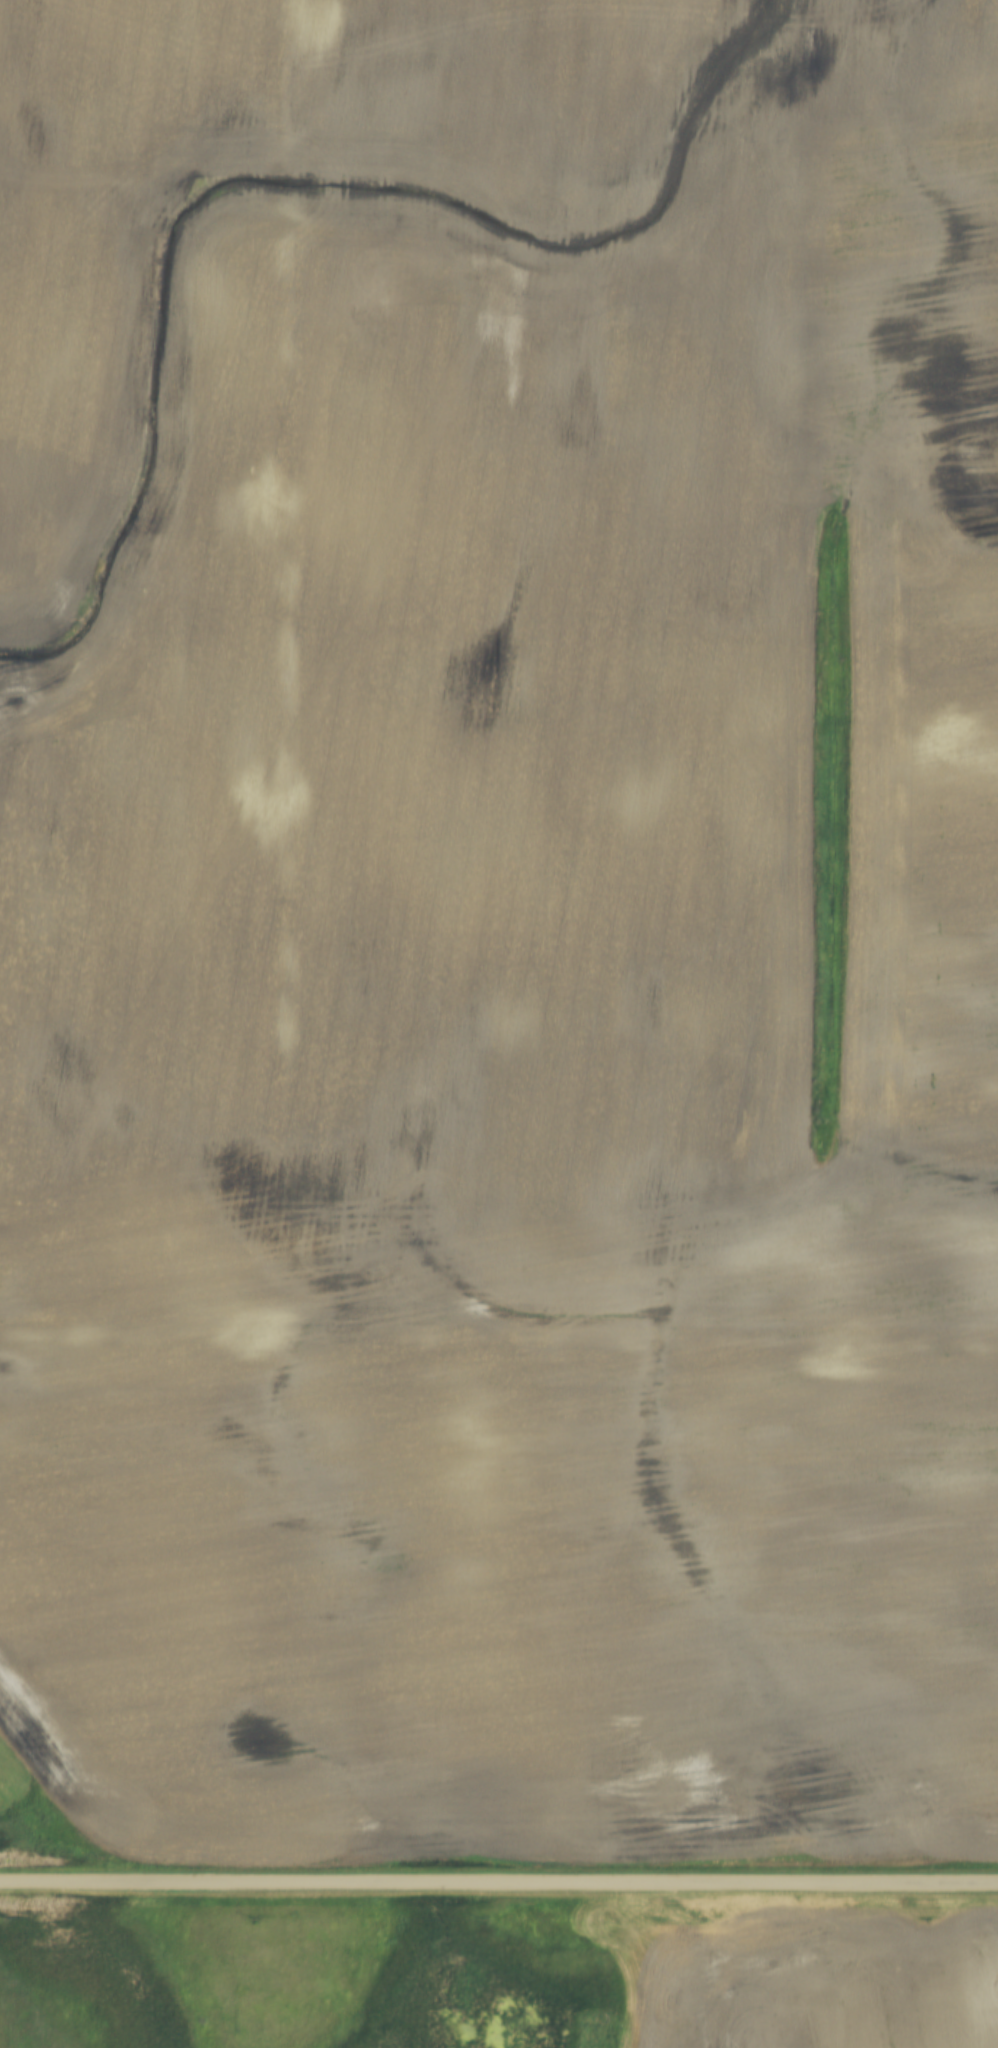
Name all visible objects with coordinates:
road: (499, 1882)

